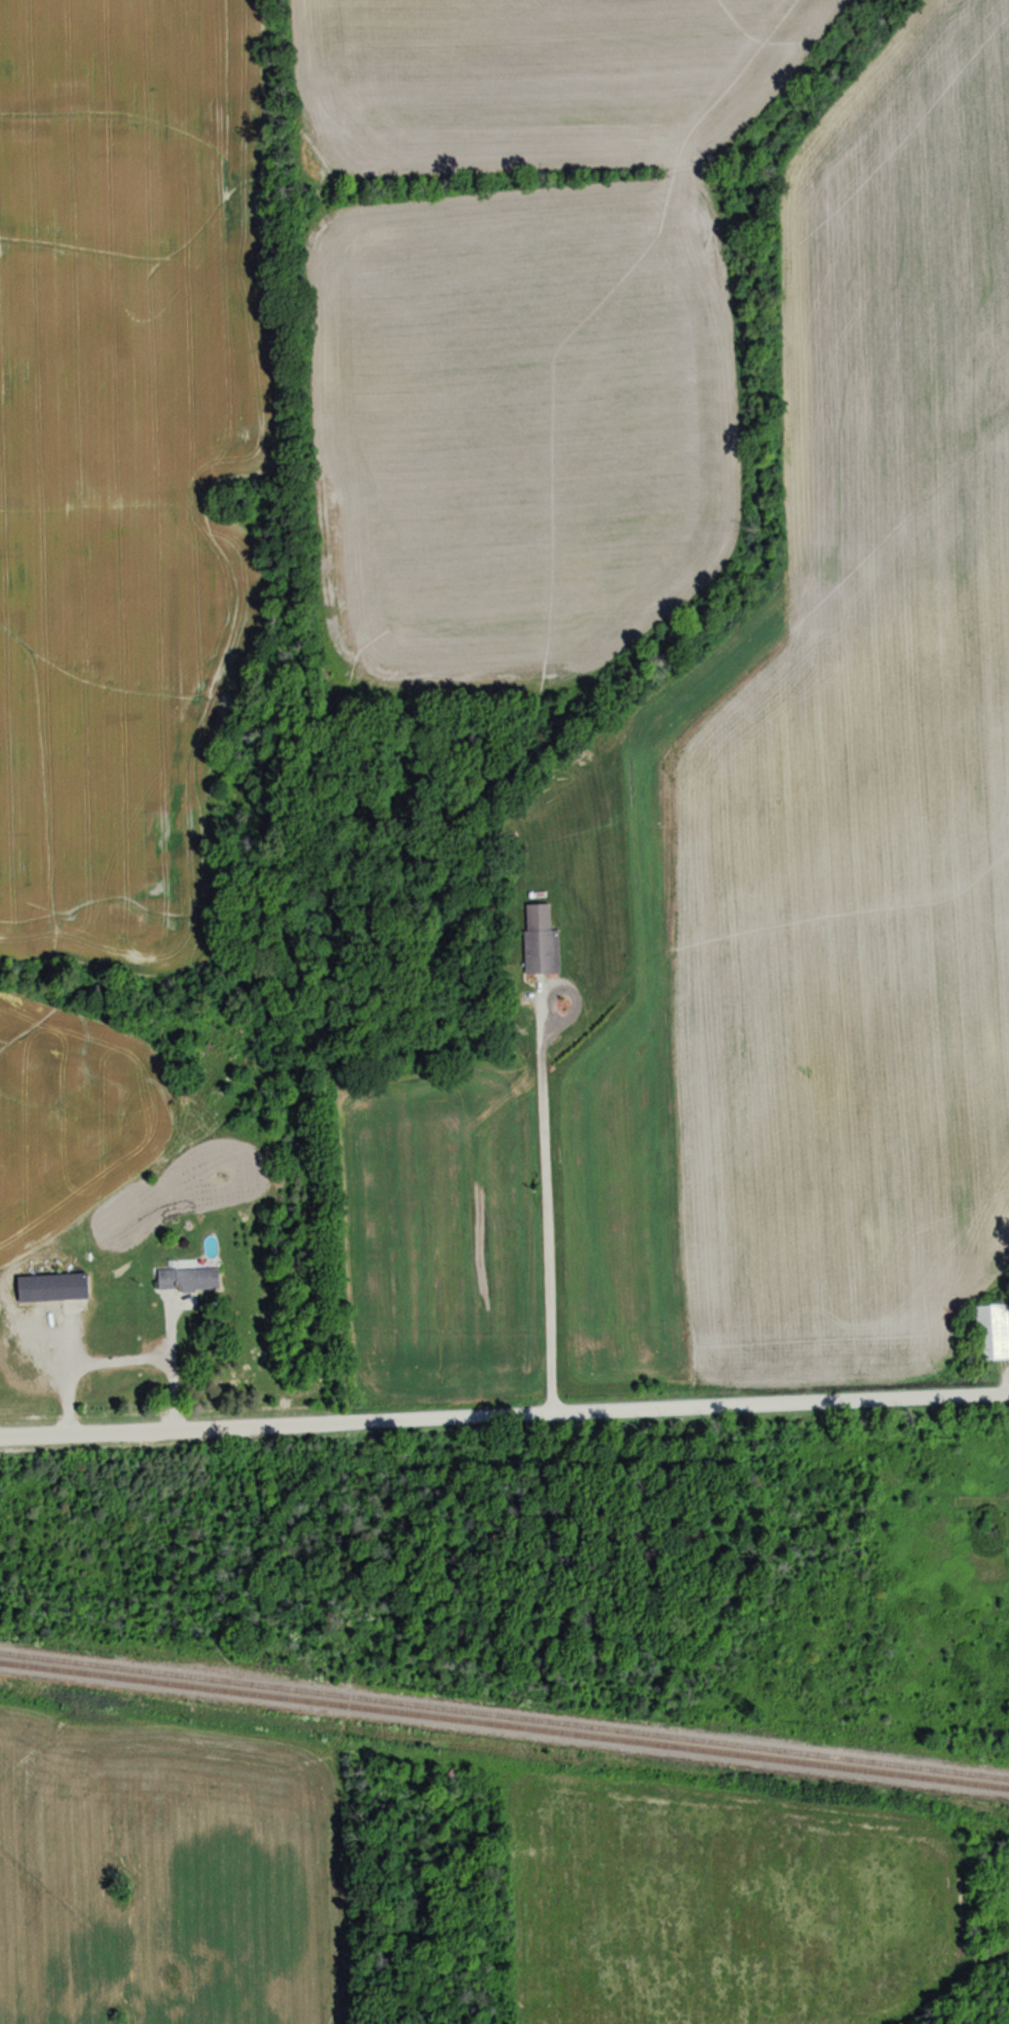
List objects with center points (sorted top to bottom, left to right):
building: (538, 941)
road: (540, 1203)
building: (184, 1279)
building: (47, 1288)
building: (990, 1332)
road: (114, 1355)
road: (504, 1415)
railway: (504, 1715)
railway: (504, 1726)

